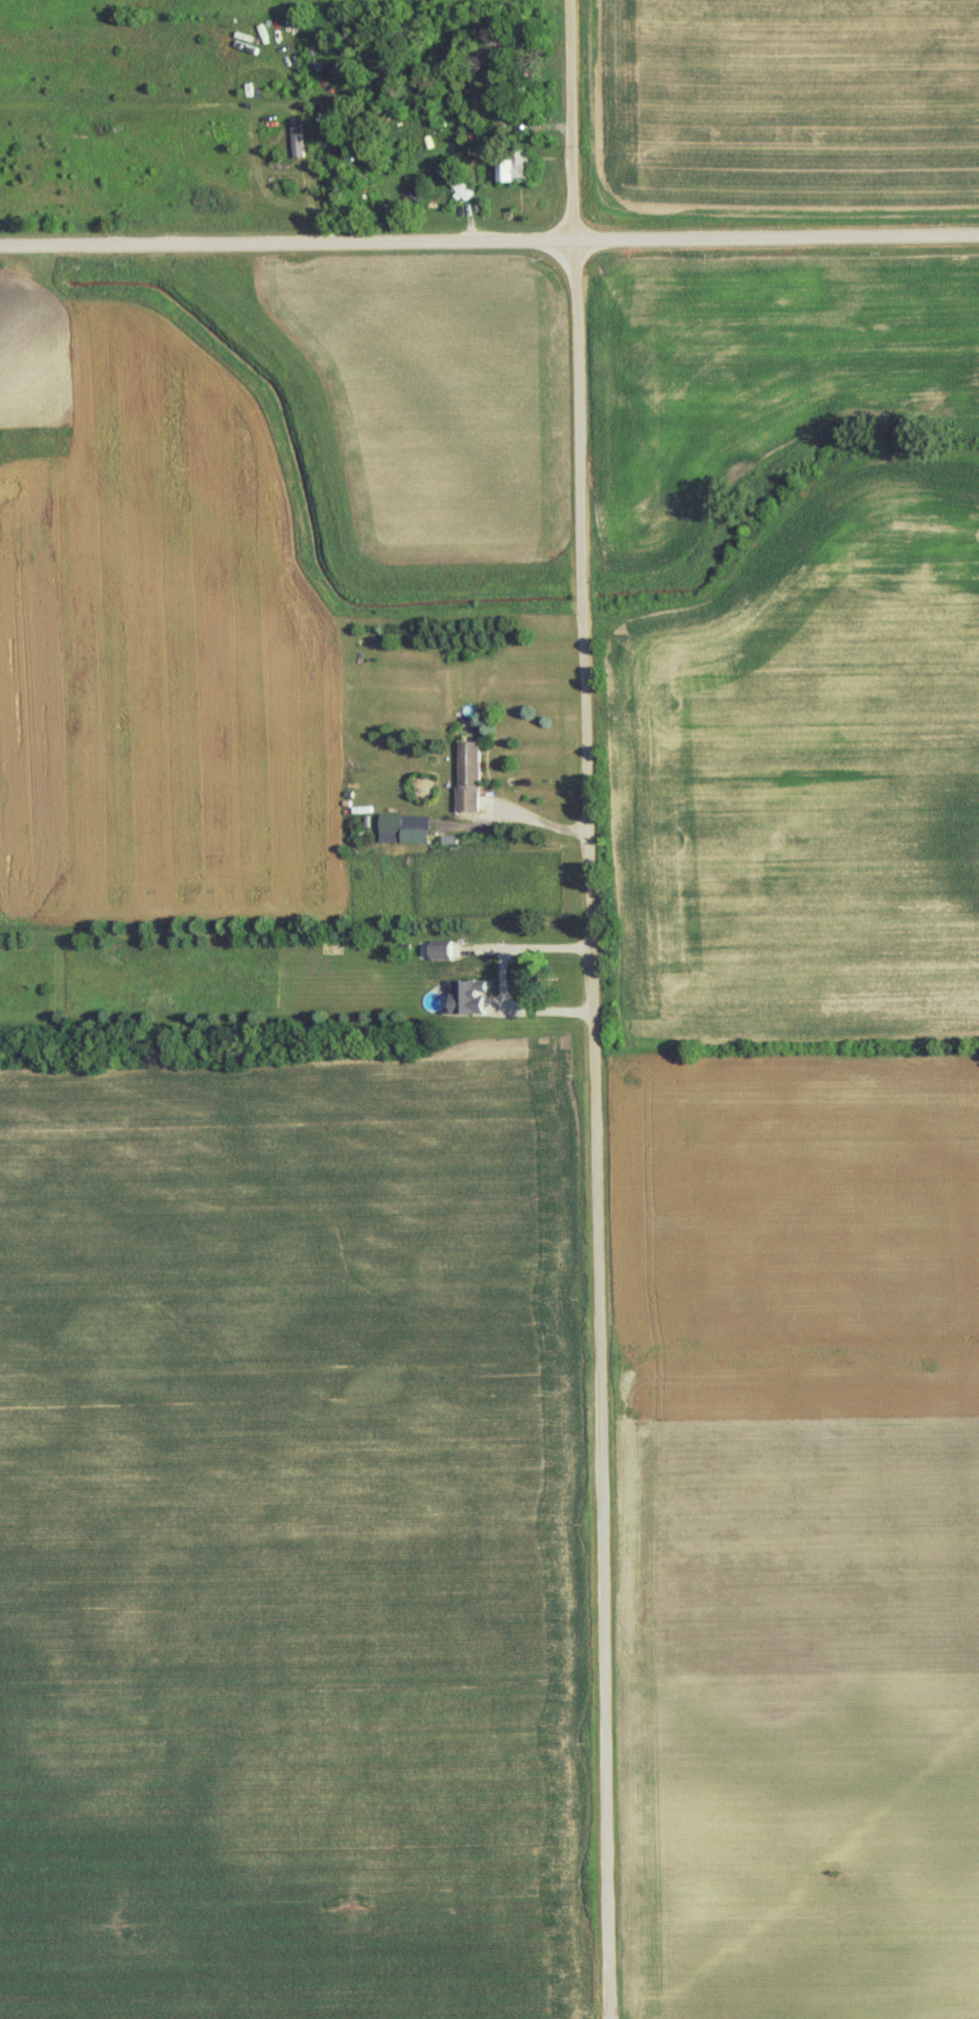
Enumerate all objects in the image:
road: (564, 119)
building: (519, 165)
building: (455, 181)
road: (489, 239)
road: (575, 537)
building: (473, 775)
road: (538, 821)
building: (407, 828)
building: (444, 949)
building: (473, 995)
road: (592, 1428)

